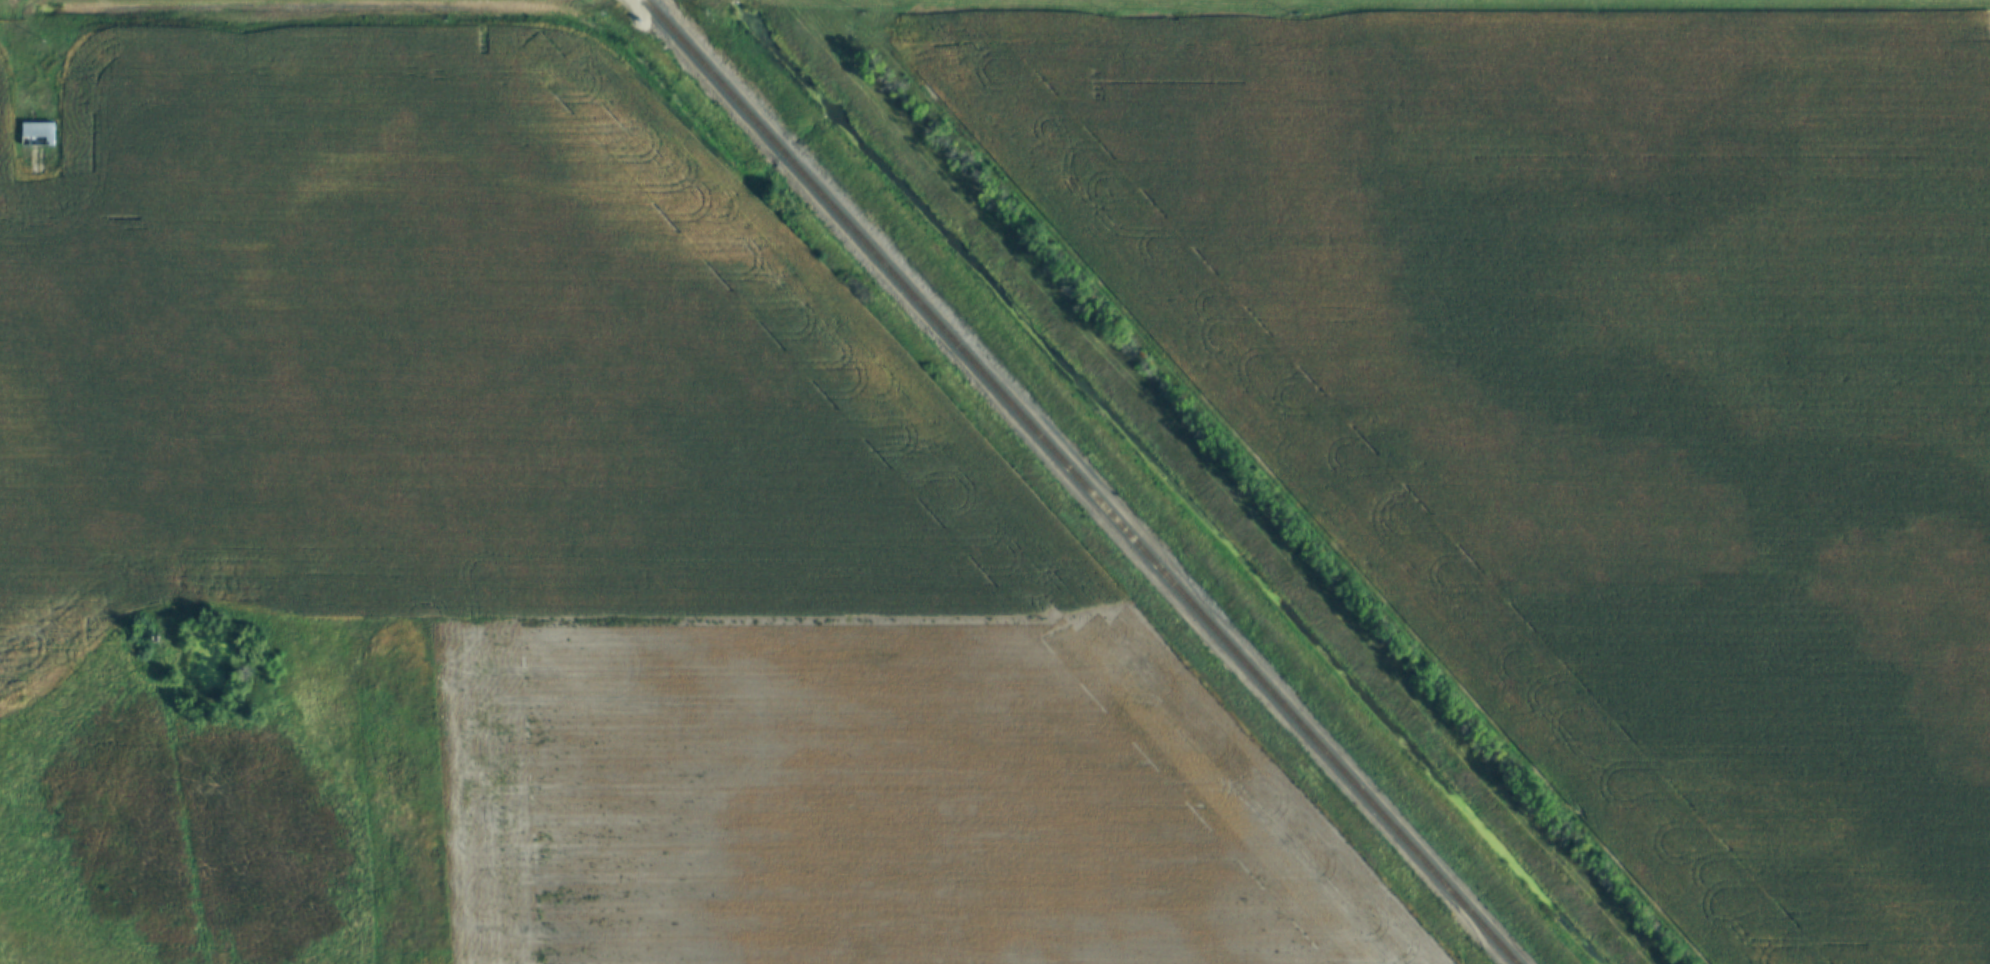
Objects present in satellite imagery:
building: (37, 135)
railway: (1077, 482)

